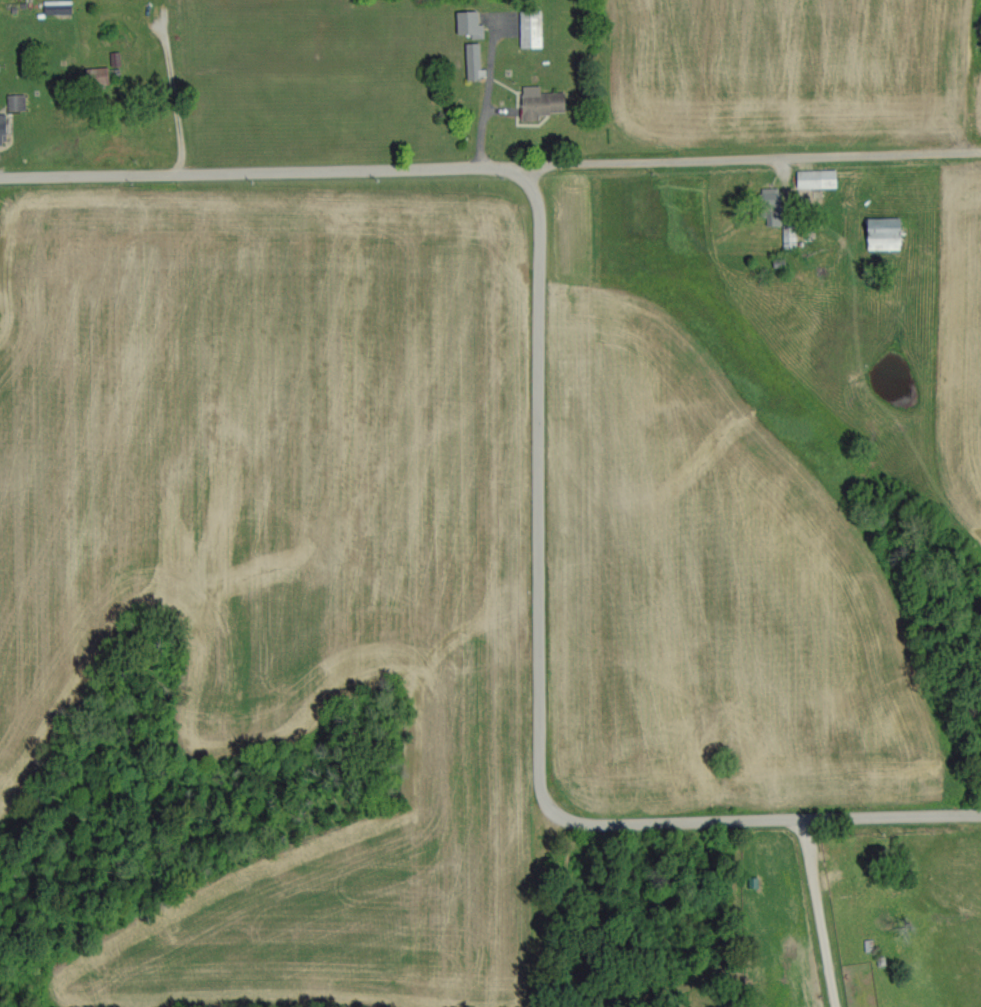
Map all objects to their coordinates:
building: (470, 23)
building: (531, 28)
building: (474, 60)
building: (99, 74)
road: (171, 88)
building: (16, 101)
building: (542, 102)
building: (3, 126)
road: (749, 159)
road: (258, 171)
building: (818, 178)
building: (773, 206)
building: (886, 233)
building: (790, 235)
road: (534, 609)
road: (890, 809)
road: (820, 908)

